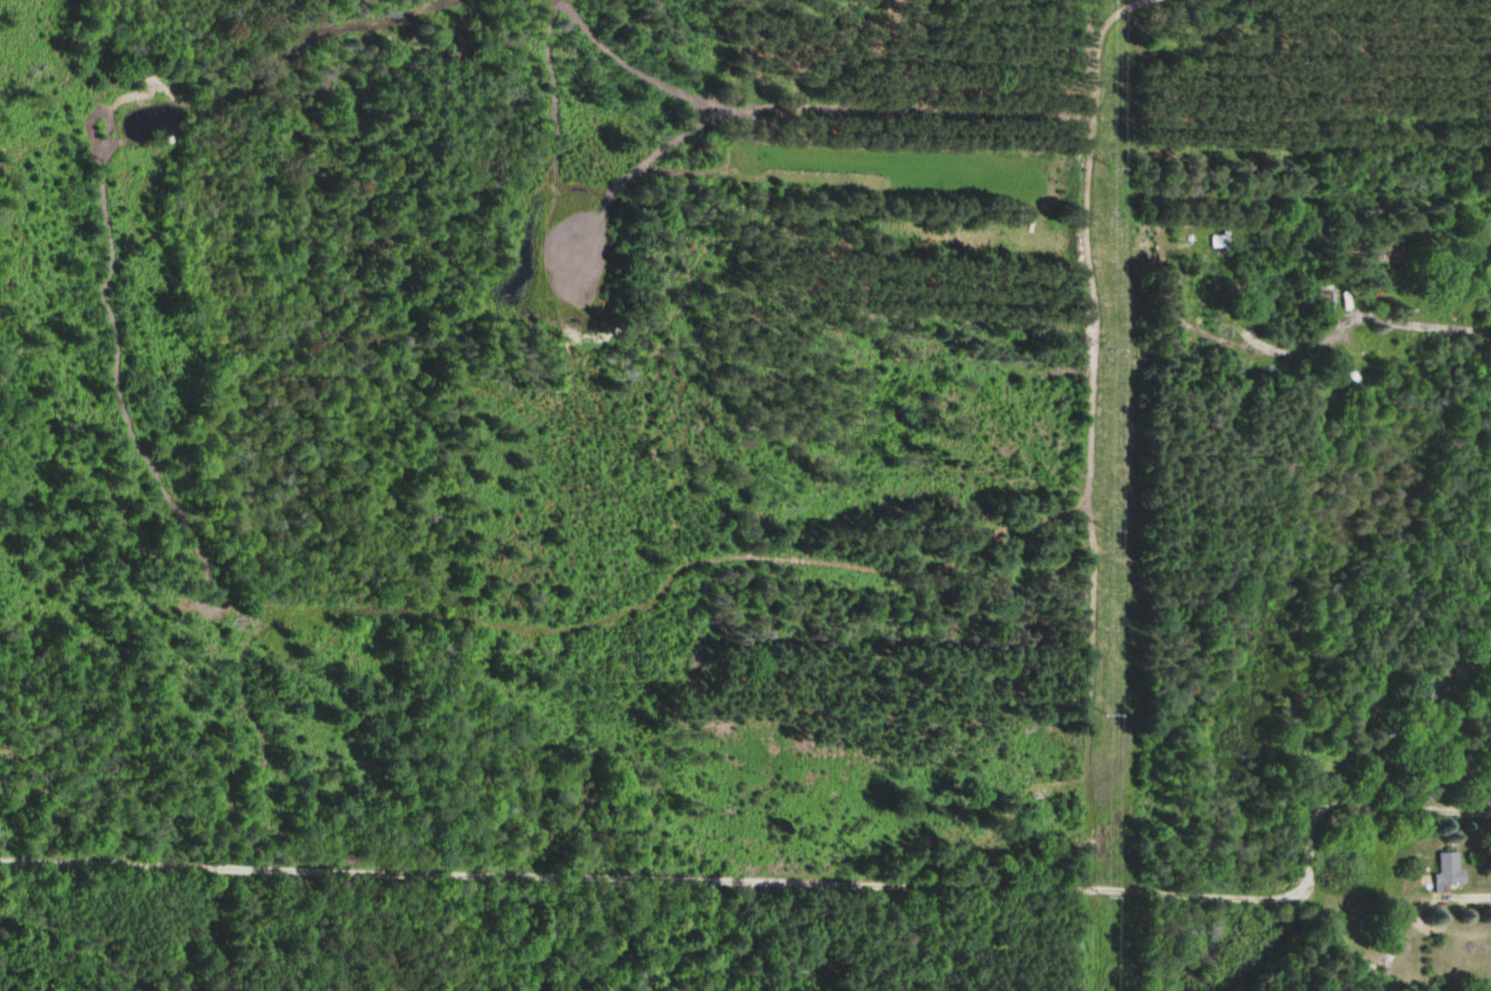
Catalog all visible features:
building: (1448, 870)
road: (780, 883)

